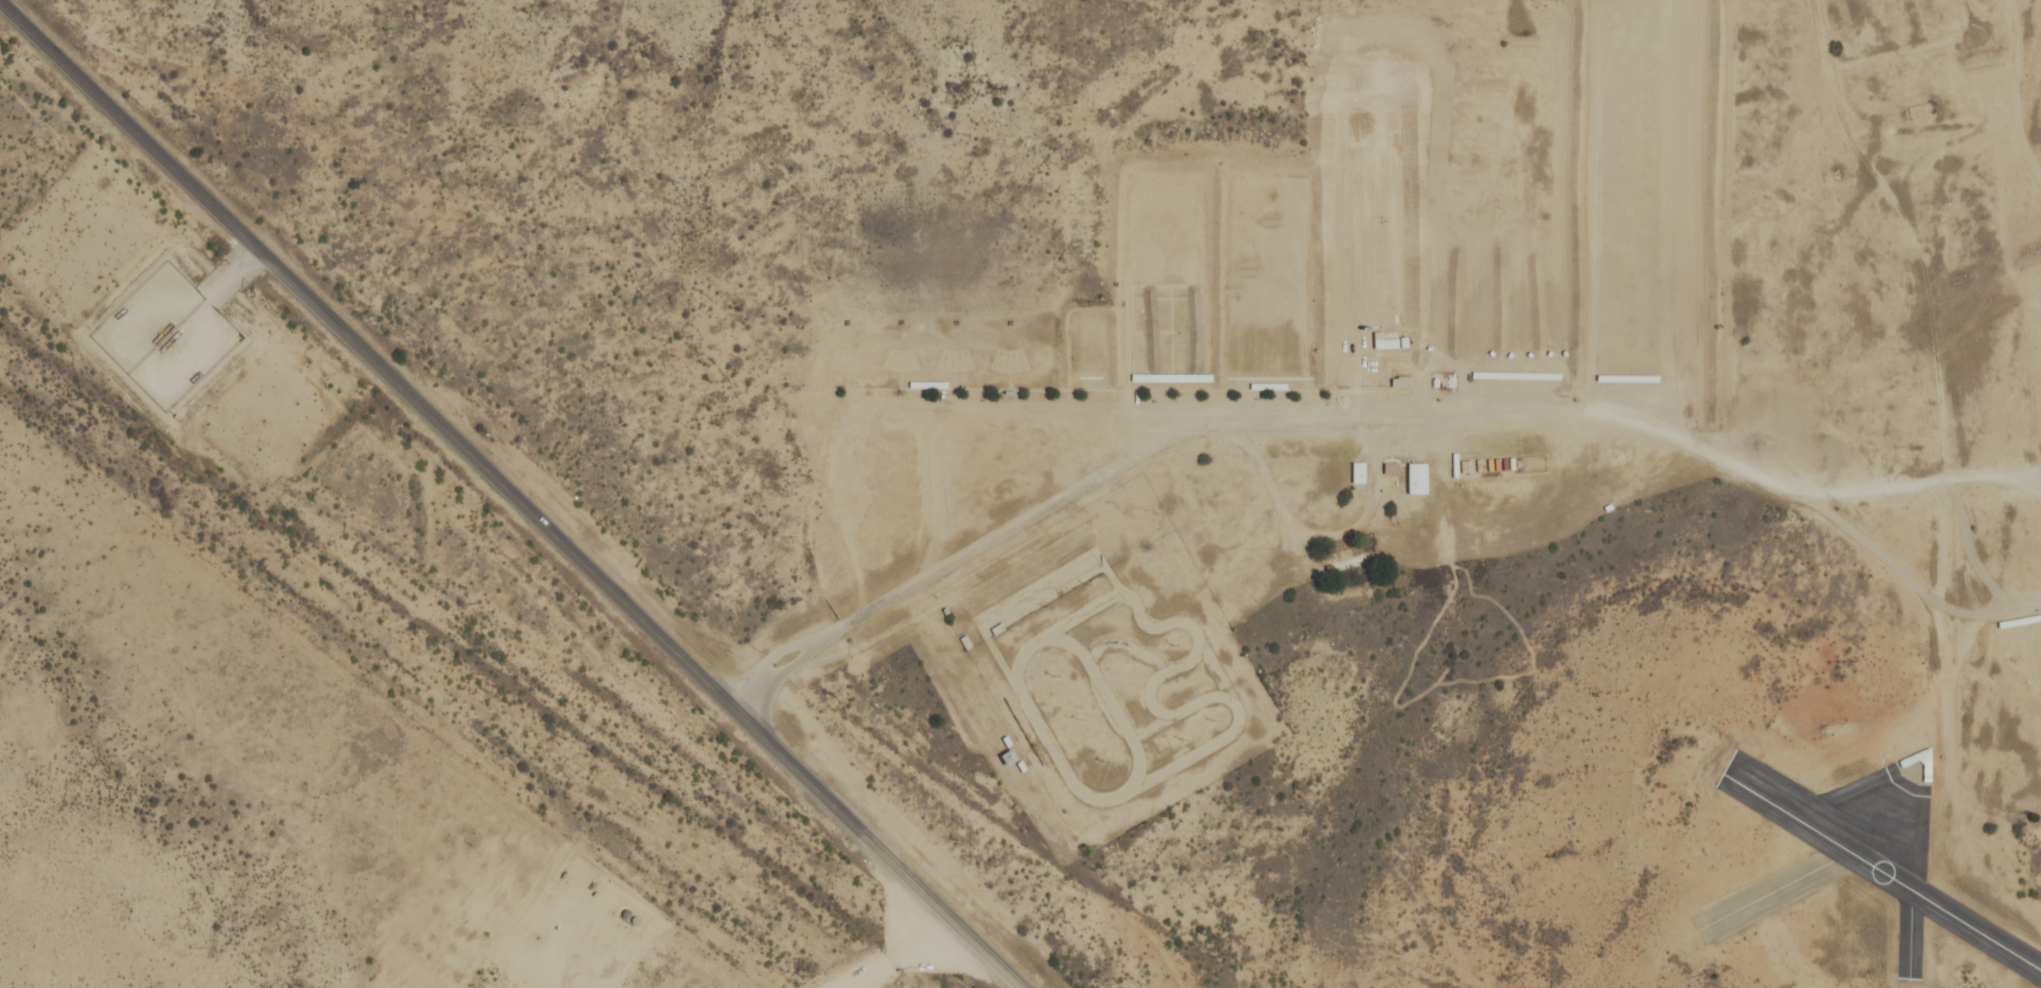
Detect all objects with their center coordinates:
power tower: (9, 226)
road: (360, 350)
building: (1162, 376)
road: (1340, 408)
power tower: (285, 480)
power tower: (560, 737)
building: (1919, 760)
road: (871, 842)
power tower: (810, 973)

